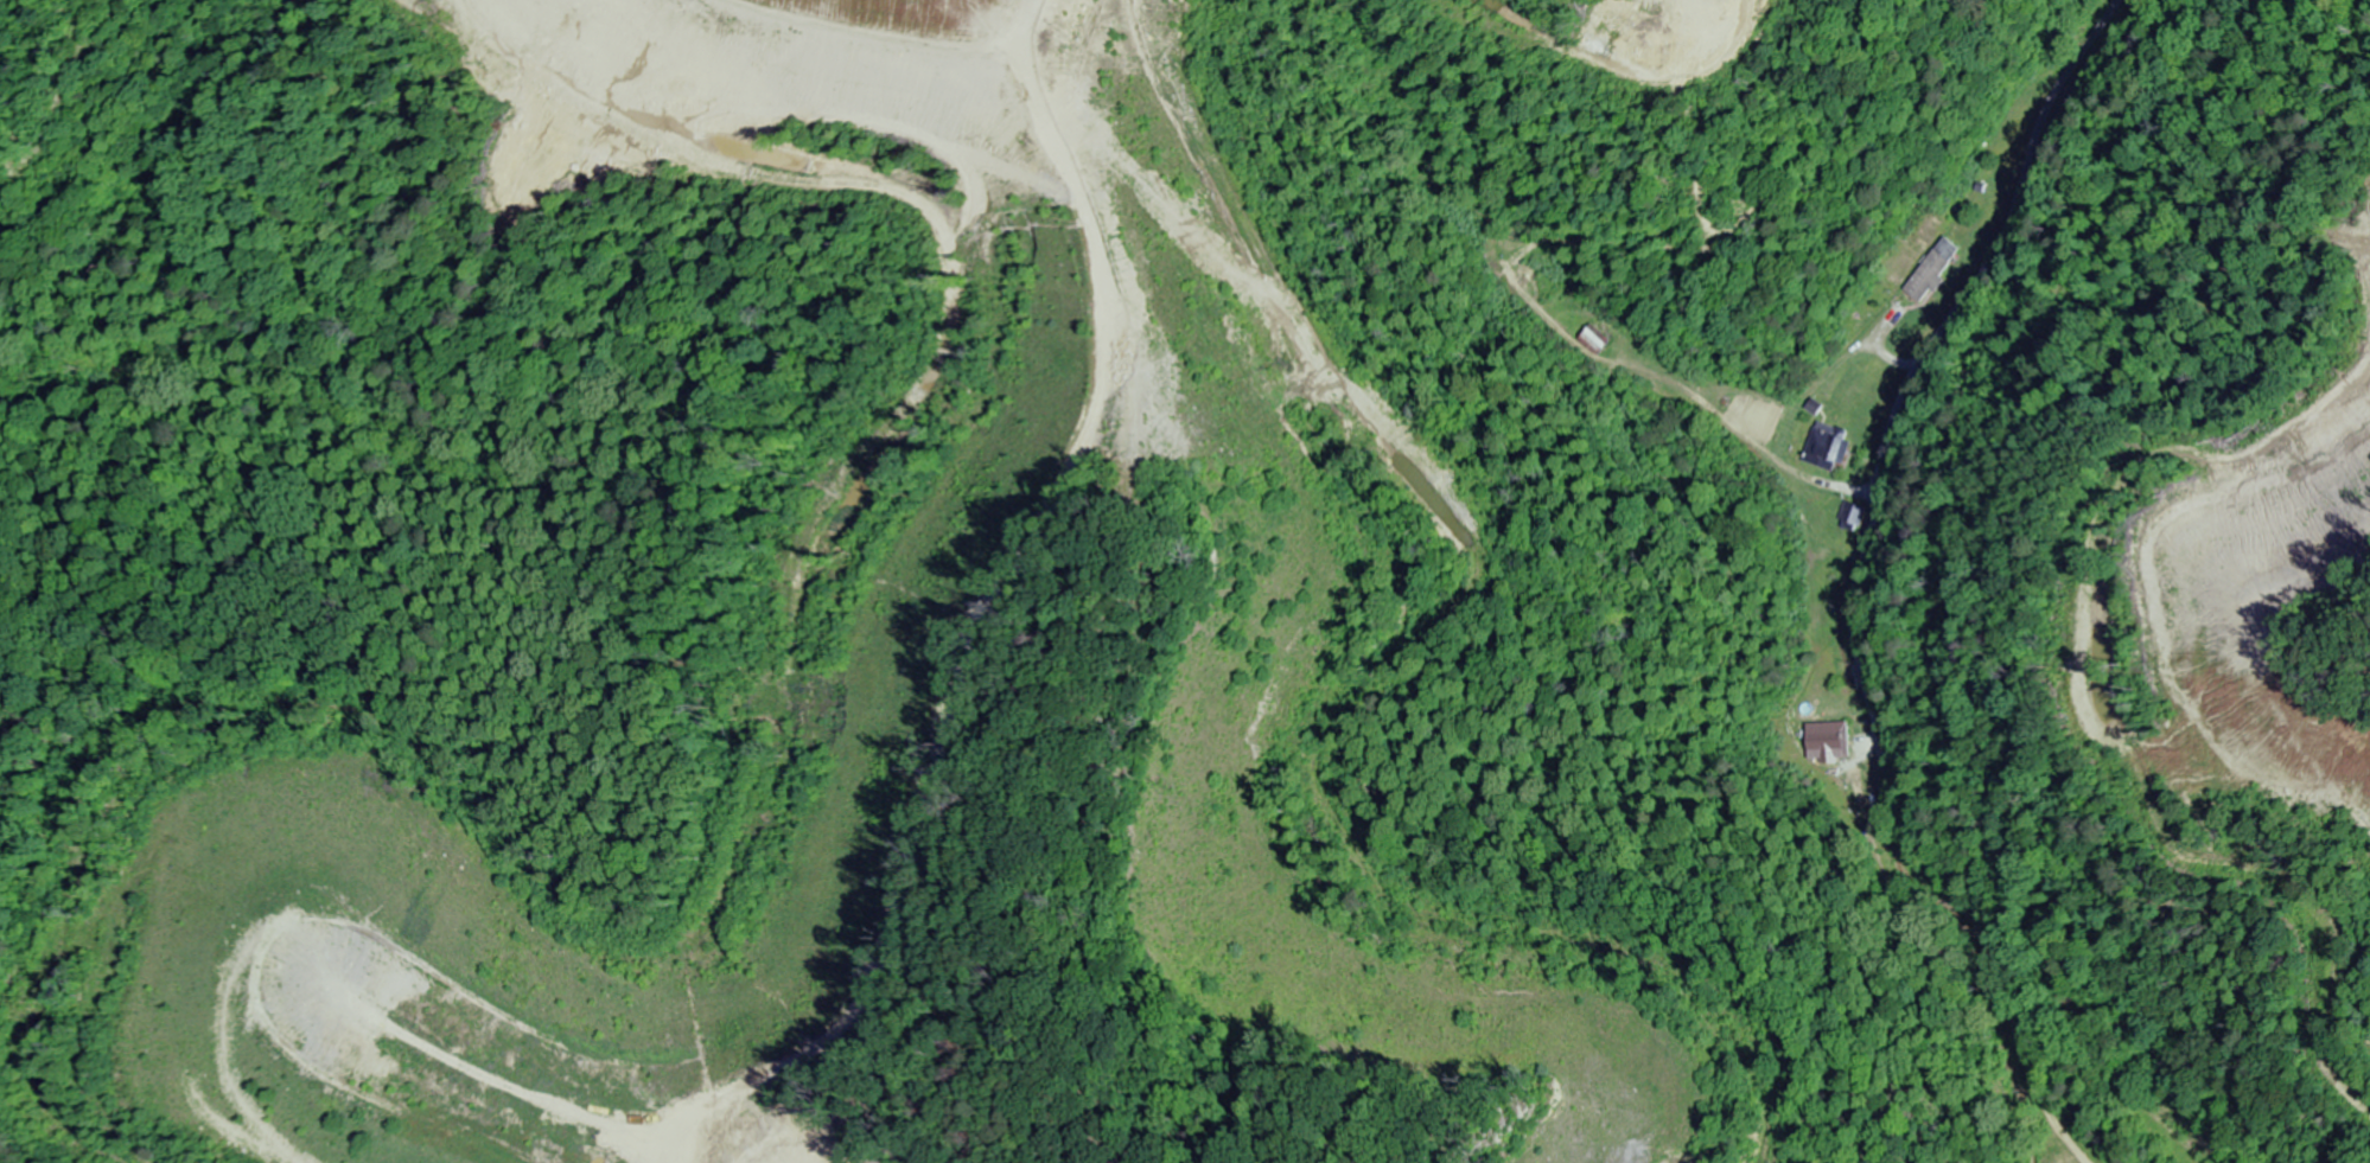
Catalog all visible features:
building: (1930, 273)
building: (1592, 339)
building: (1823, 448)
road: (1860, 570)
building: (1826, 742)

